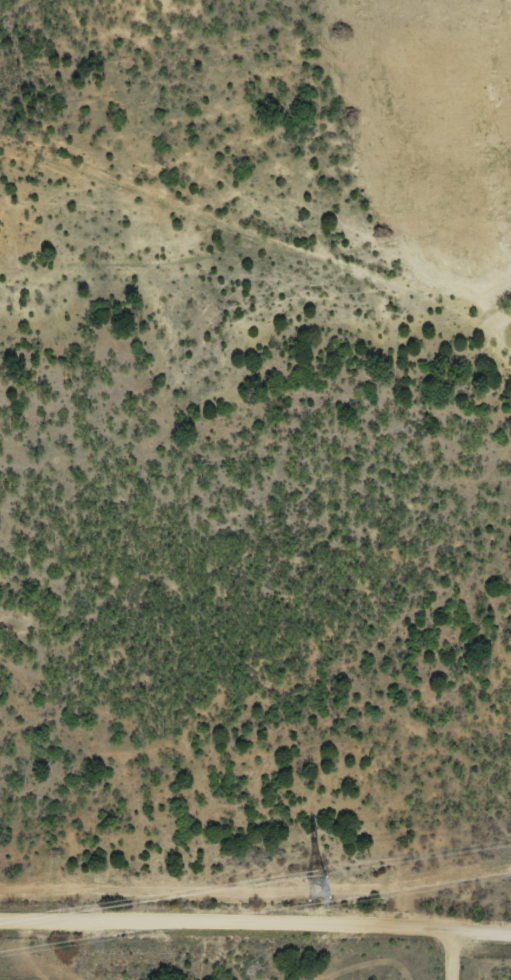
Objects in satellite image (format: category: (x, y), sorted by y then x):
power tower: (318, 890)
road: (255, 948)
road: (440, 965)

